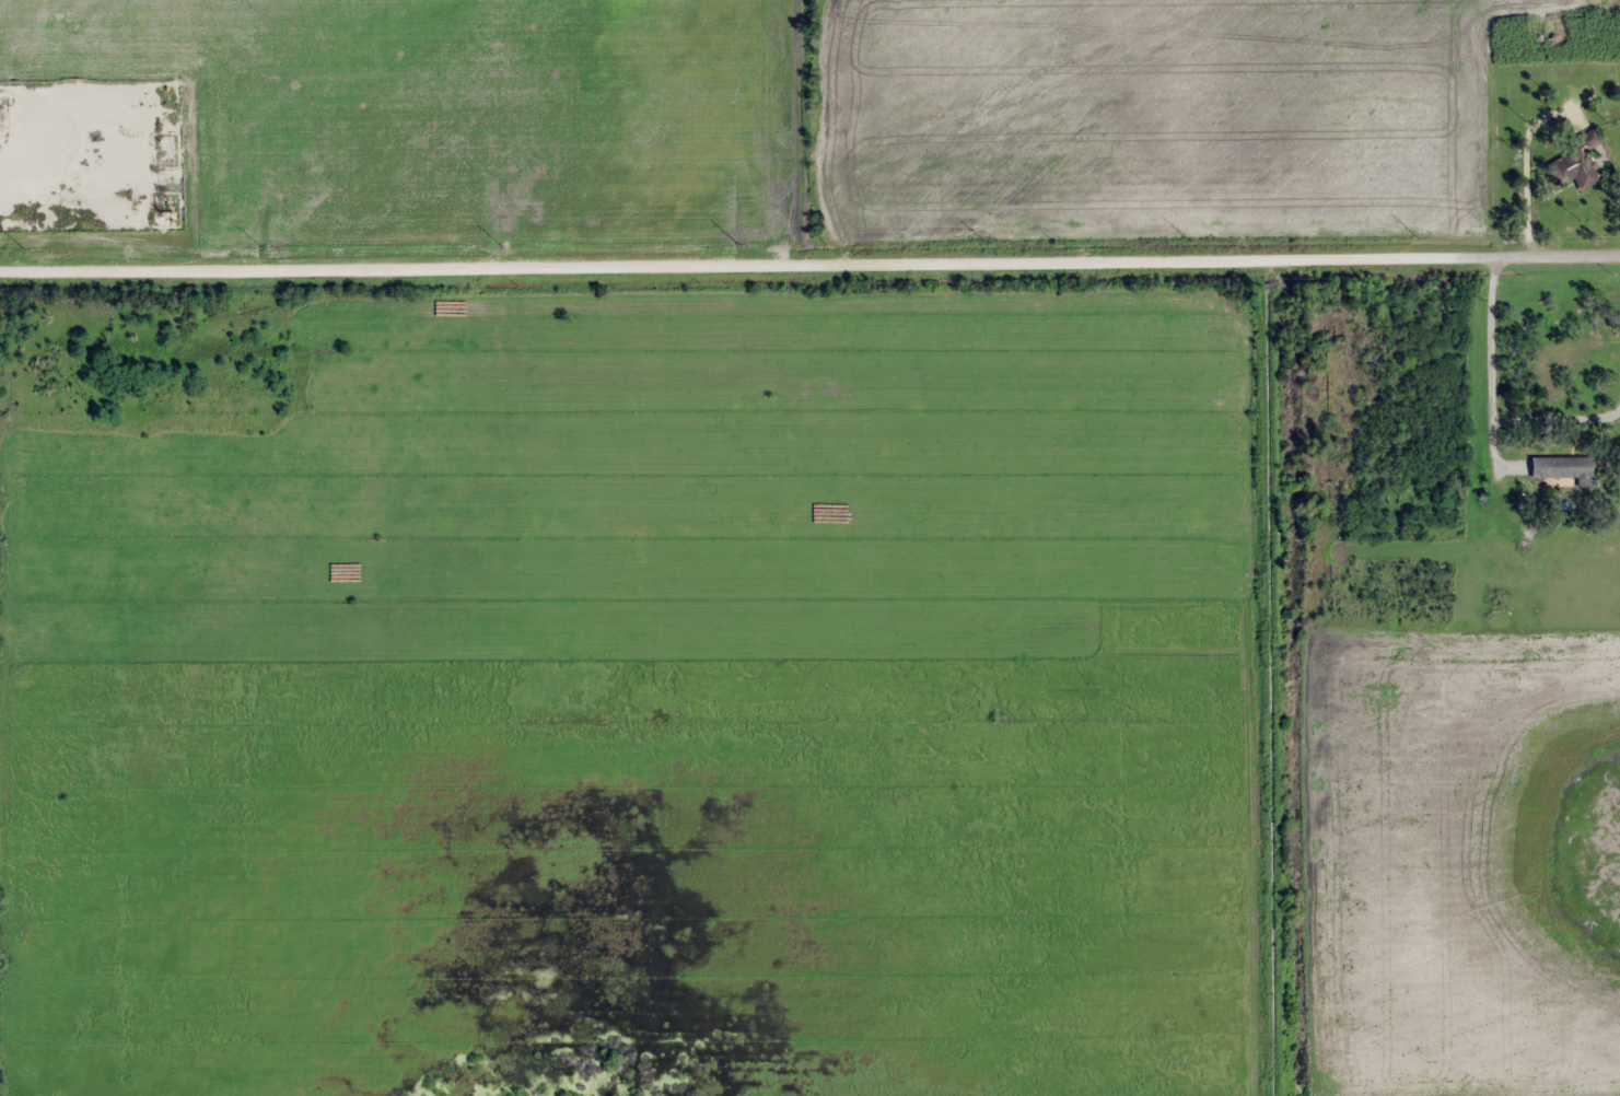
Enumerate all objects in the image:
building: (1573, 168)
road: (809, 256)
building: (1559, 467)

